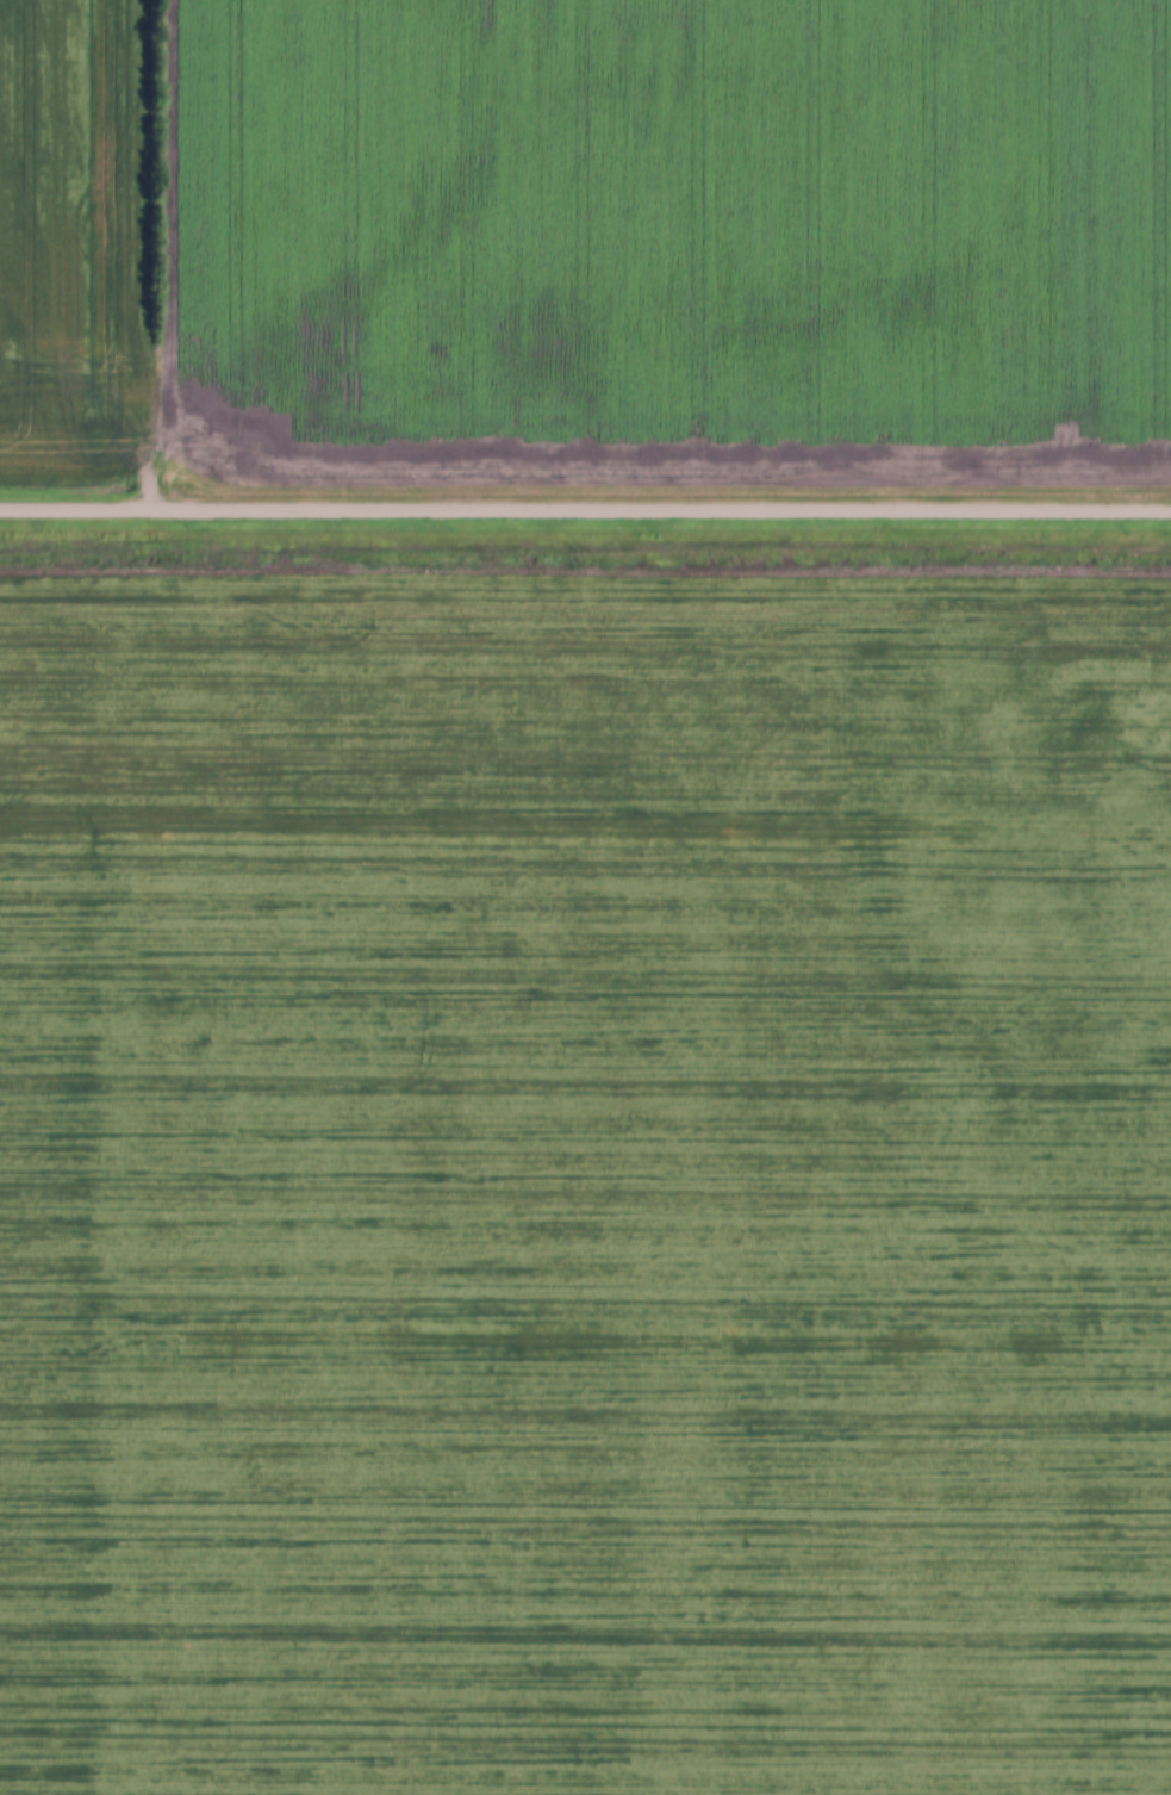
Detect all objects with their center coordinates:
road: (585, 511)

